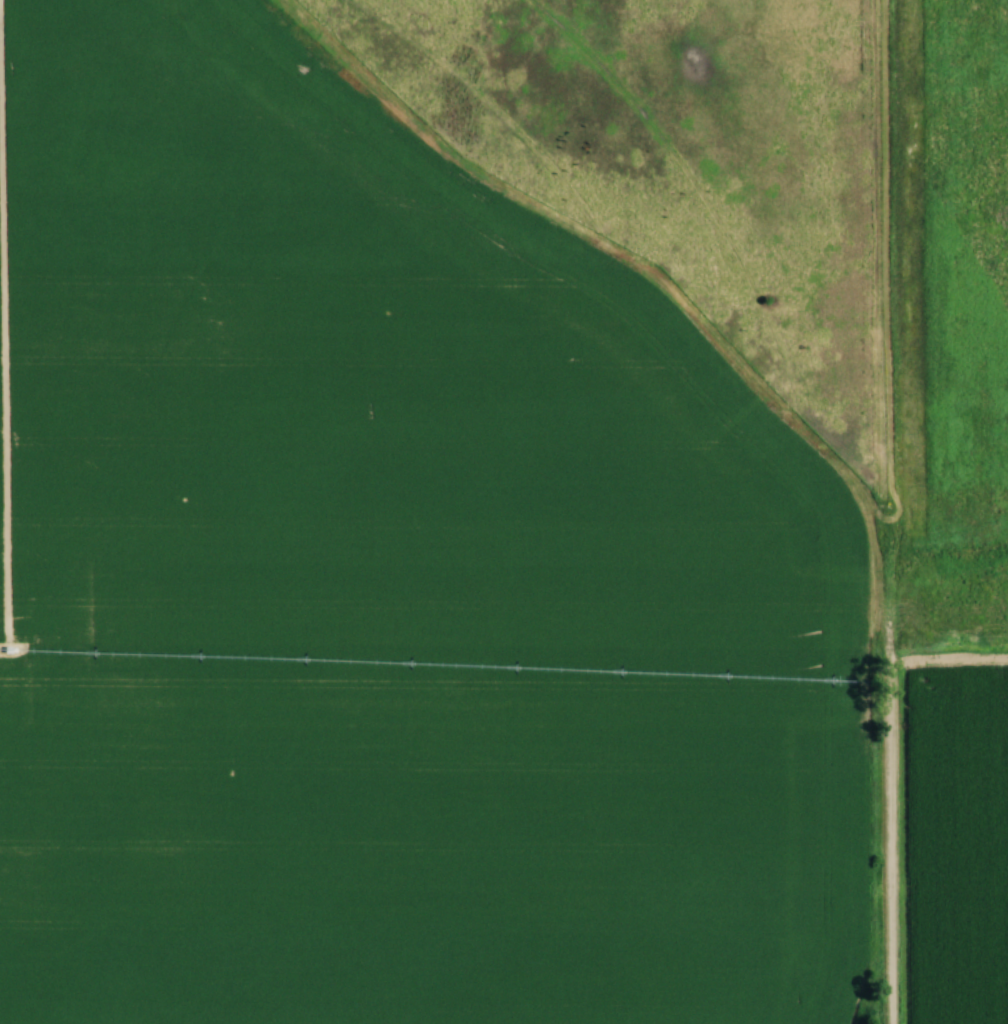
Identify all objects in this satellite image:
road: (885, 787)

